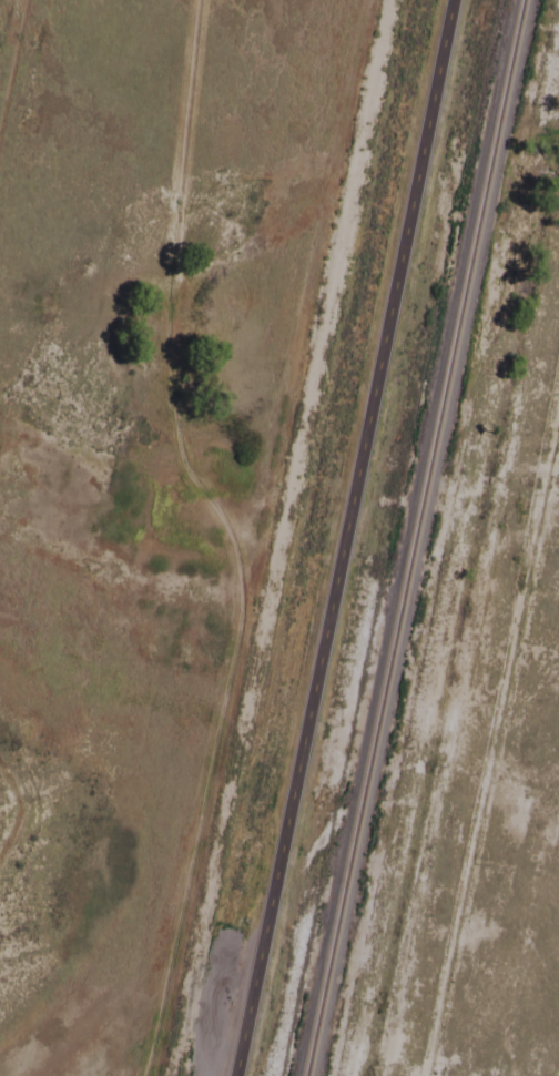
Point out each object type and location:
road: (327, 318)
road: (347, 538)
railway: (417, 538)
road: (217, 856)
parking lot: (228, 1012)

